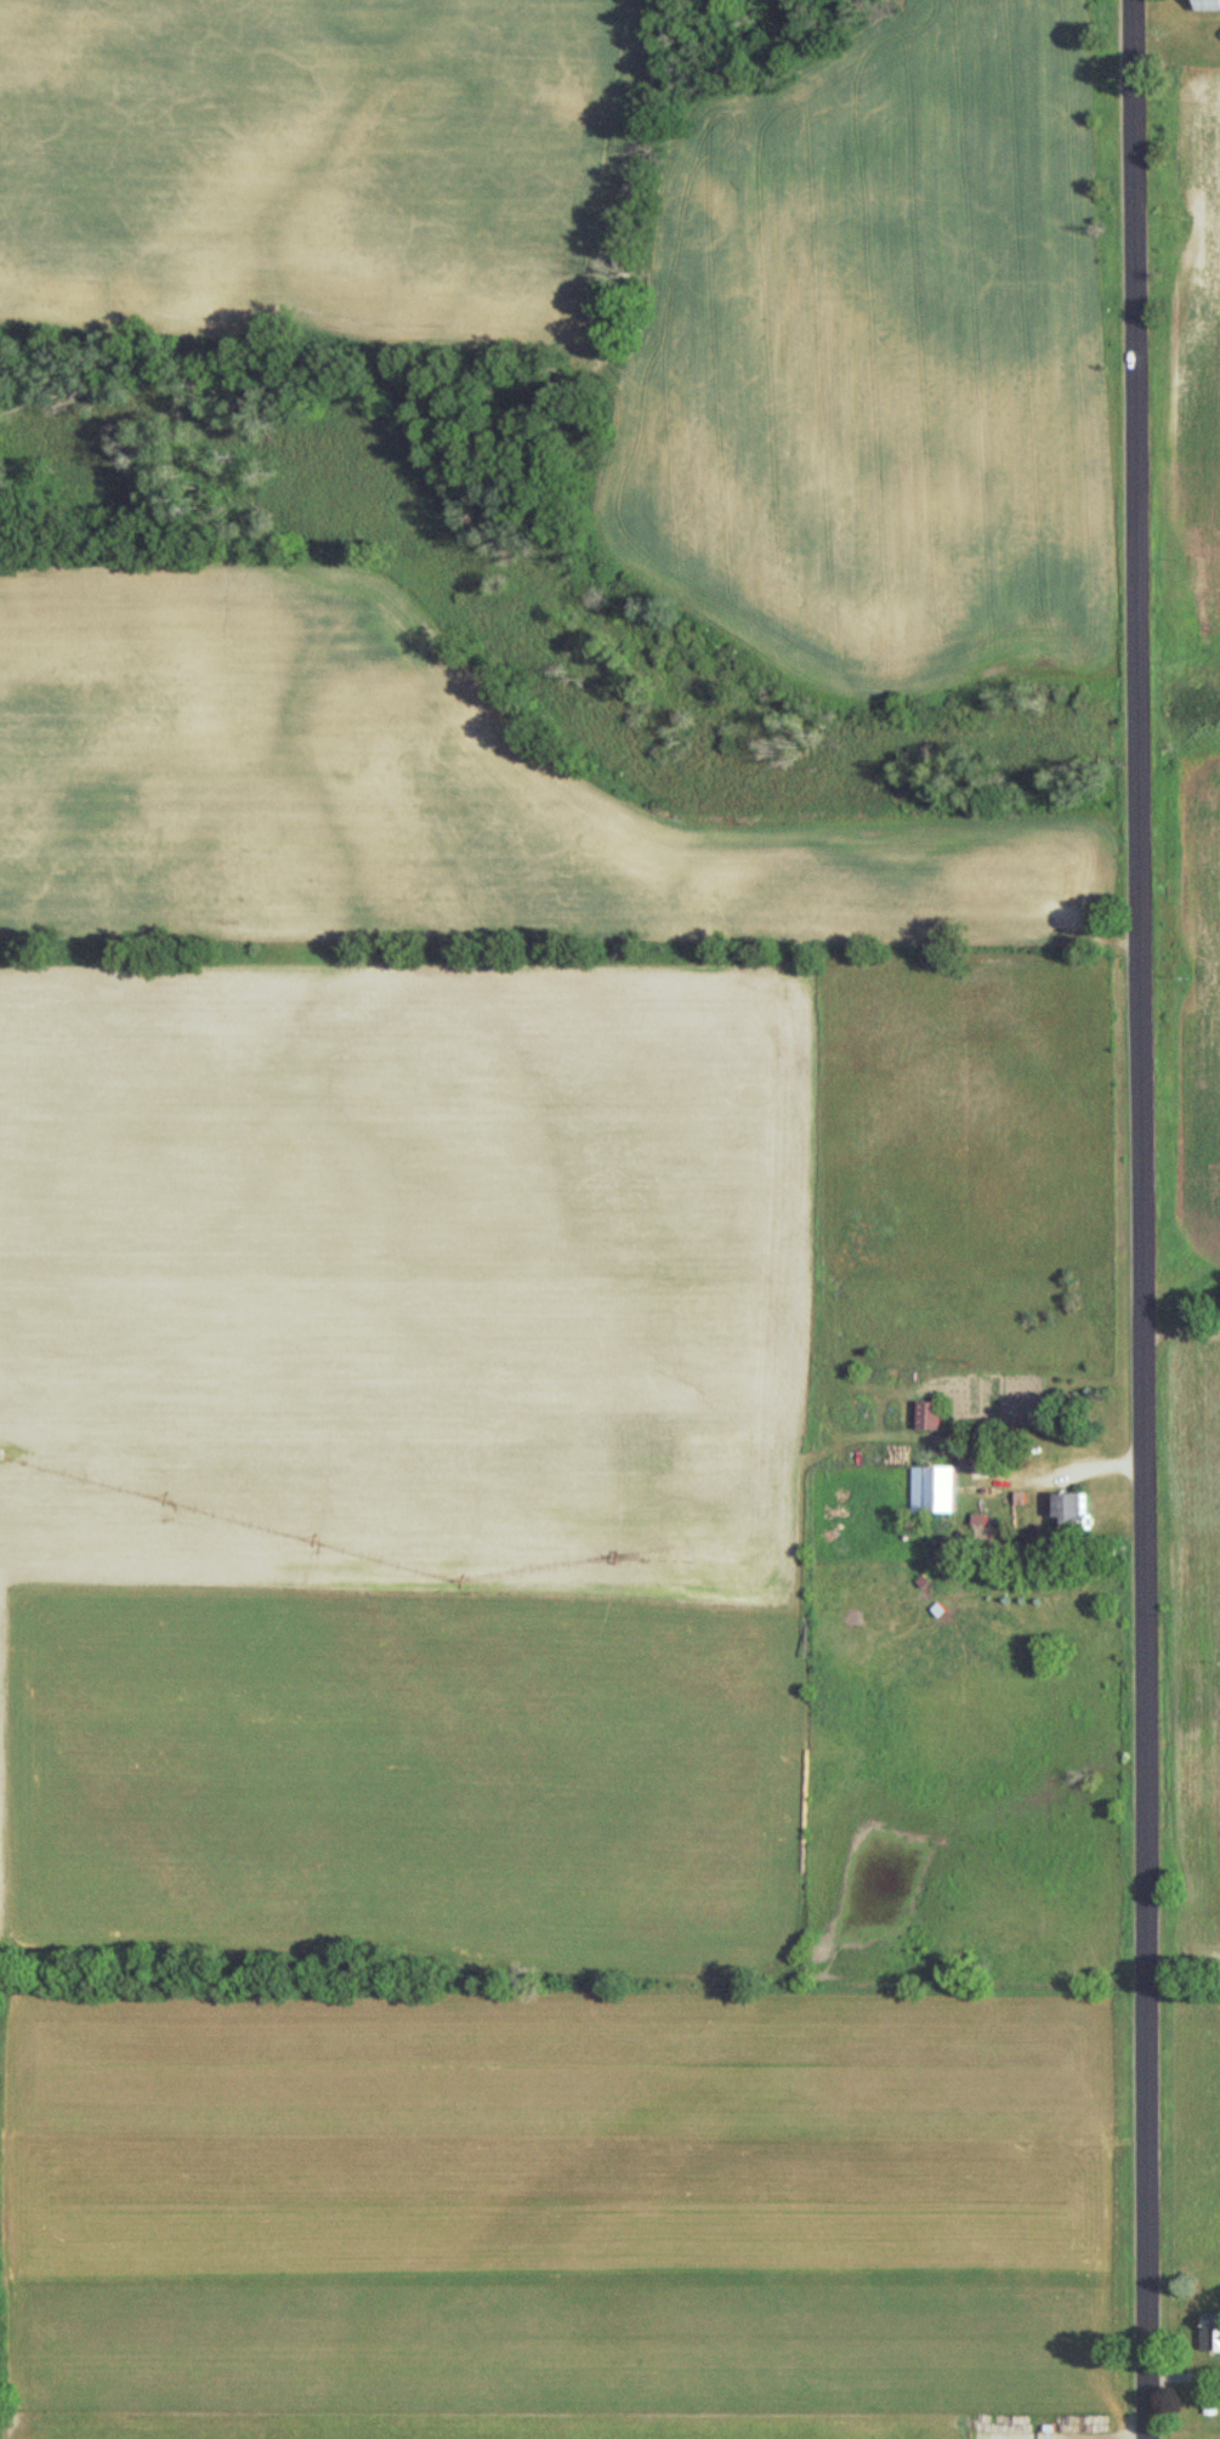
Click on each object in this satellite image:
building: (1208, 5)
road: (1145, 1219)
building: (931, 1414)
building: (938, 1491)
building: (1072, 1510)
building: (1213, 2335)

